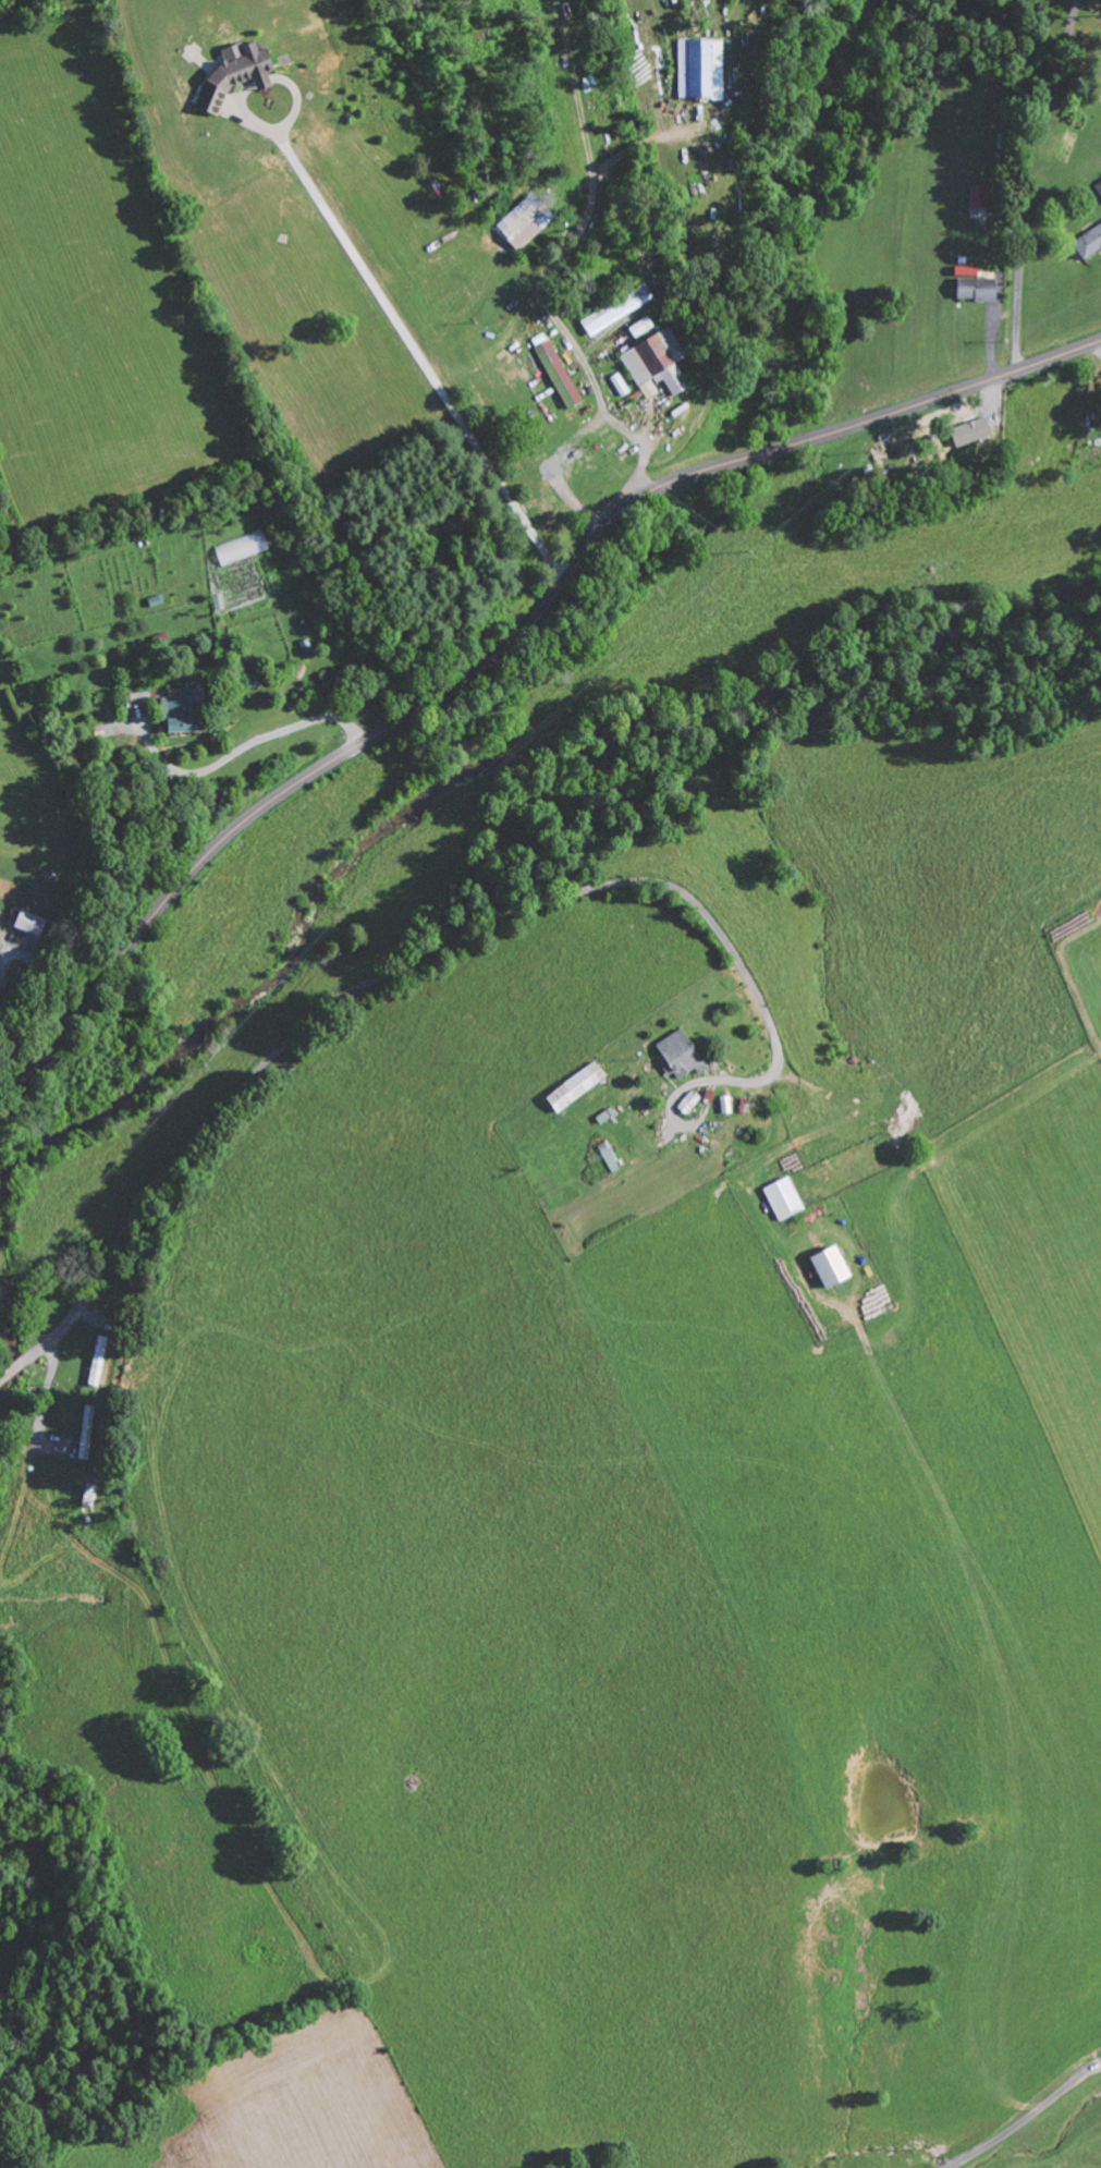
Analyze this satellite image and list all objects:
building: (236, 73)
building: (1099, 185)
building: (981, 196)
building: (526, 220)
building: (1090, 242)
building: (978, 288)
building: (619, 308)
building: (643, 326)
building: (658, 363)
building: (560, 374)
building: (621, 385)
building: (972, 430)
road: (505, 651)
building: (182, 711)
building: (28, 922)
building: (0, 928)
building: (0, 939)
road: (366, 985)
building: (682, 1056)
building: (577, 1086)
building: (611, 1156)
building: (785, 1198)
building: (832, 1267)
road: (1025, 2119)

